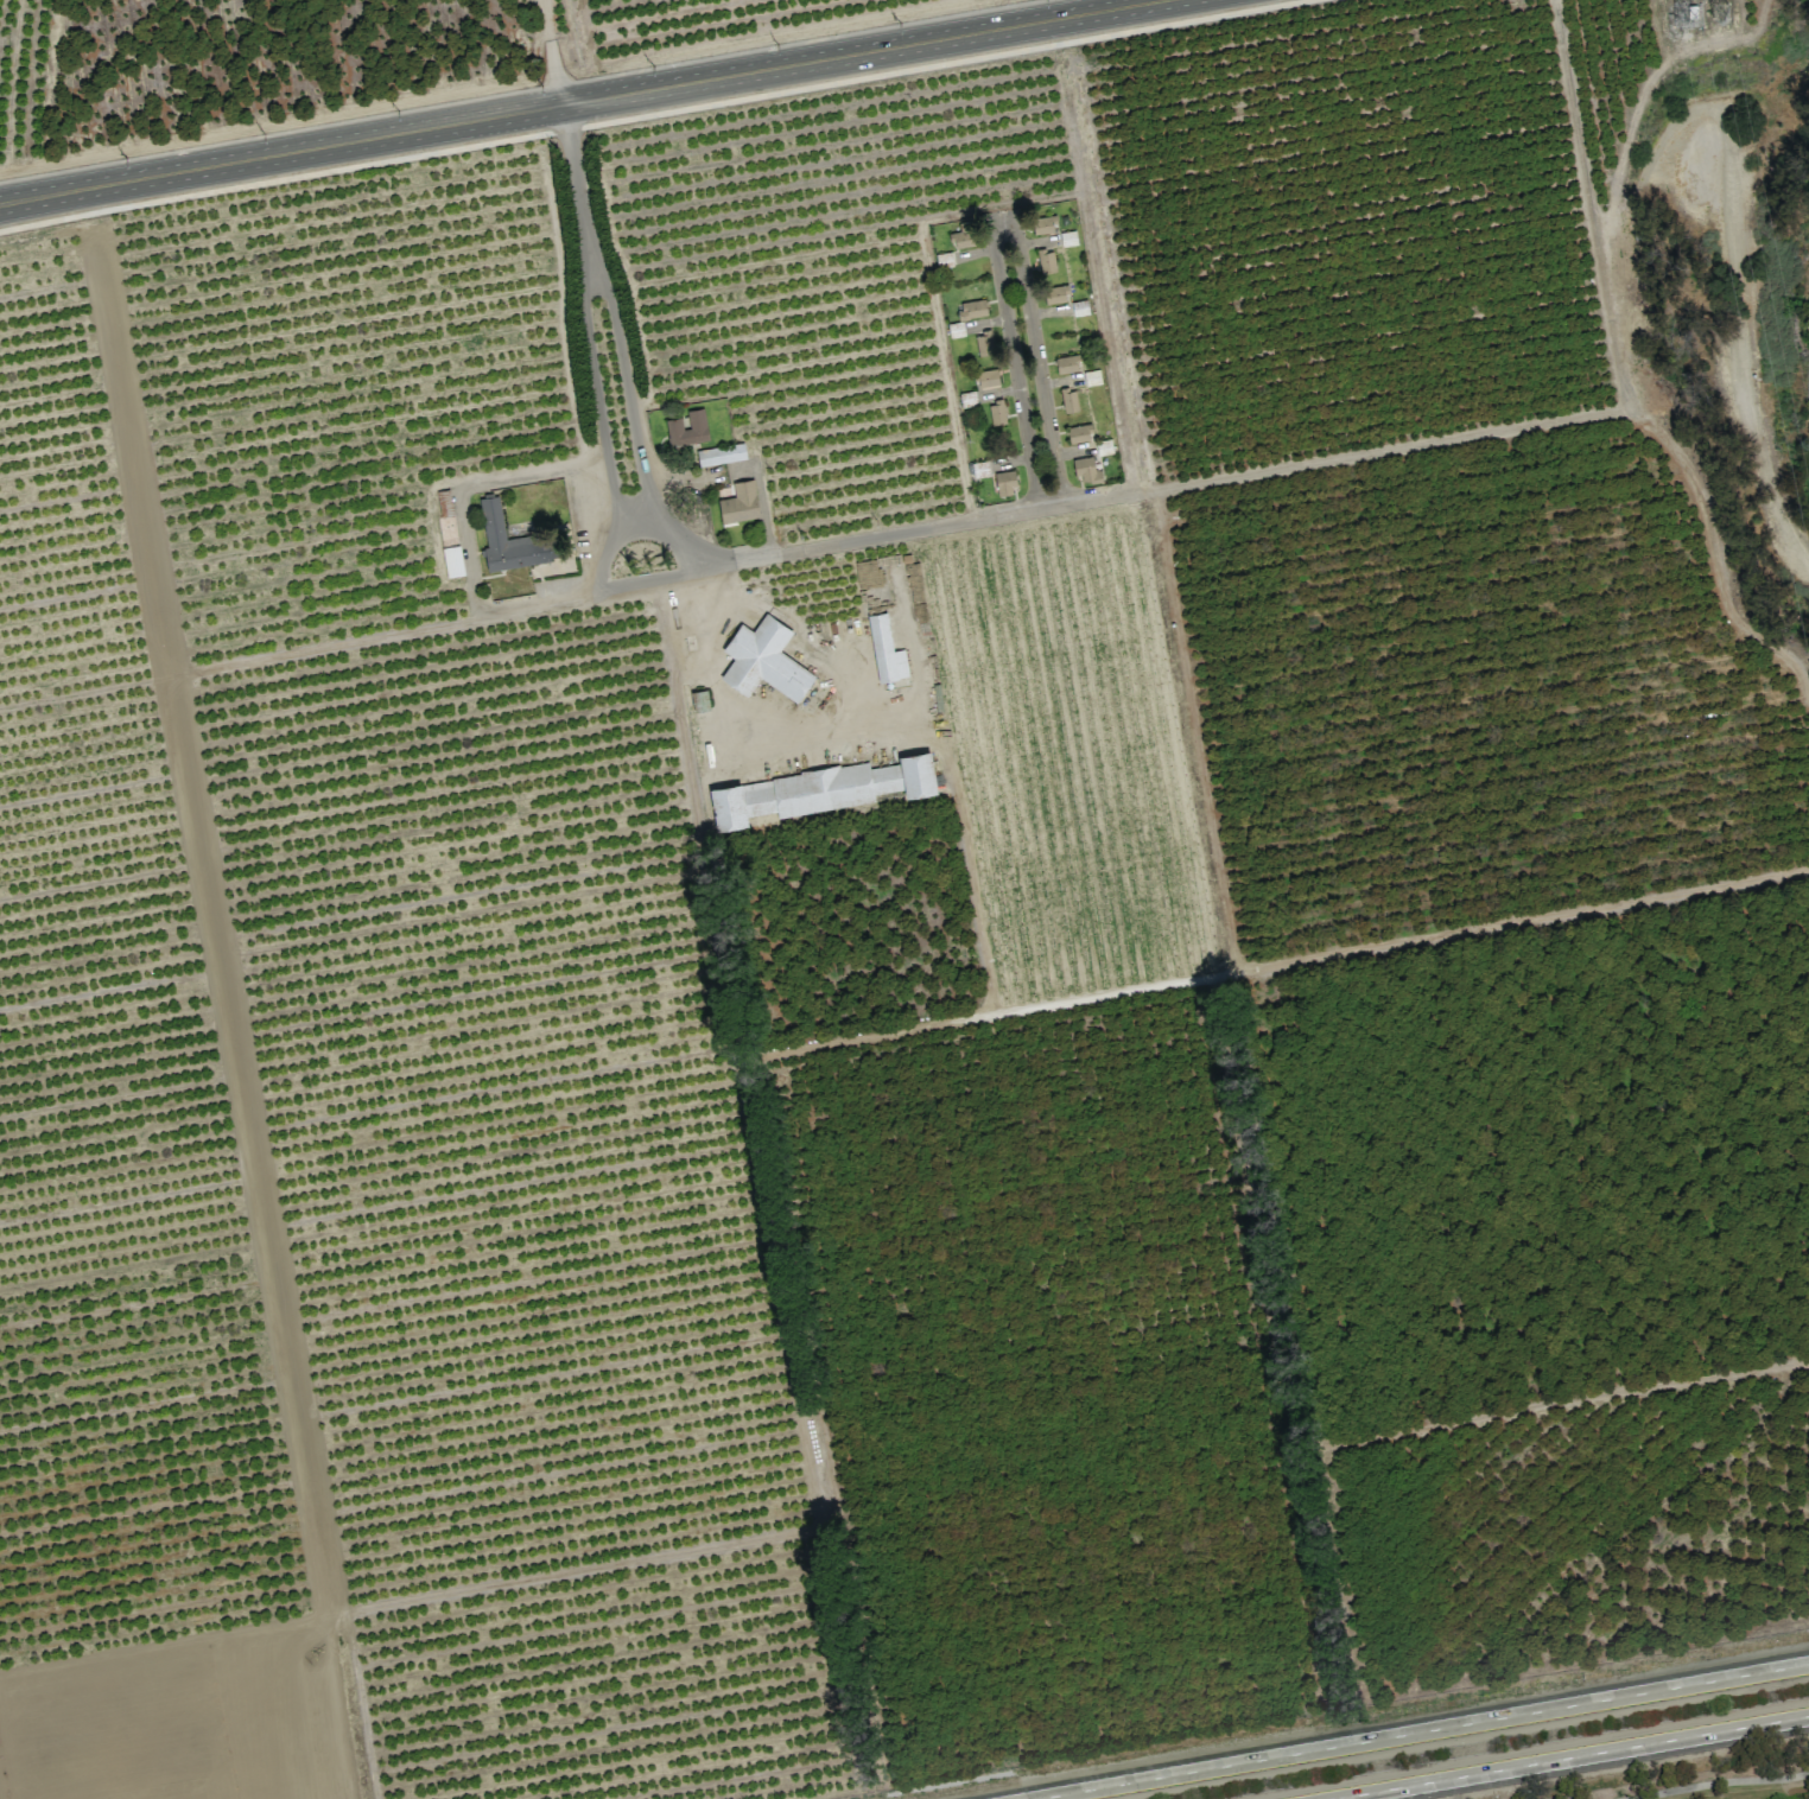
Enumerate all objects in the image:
power tower: (1722, 11)
power tower: (1691, 12)
road: (551, 51)
road: (940, 65)
road: (579, 100)
road: (284, 180)
road: (578, 192)
road: (1589, 204)
building: (1043, 224)
building: (963, 235)
building: (1046, 260)
building: (1055, 293)
building: (1079, 307)
building: (972, 309)
building: (984, 343)
road: (1034, 352)
building: (1067, 363)
road: (1015, 368)
road: (594, 370)
building: (986, 377)
building: (1091, 377)
road: (628, 393)
building: (1068, 399)
building: (996, 412)
building: (687, 427)
building: (1080, 433)
road: (1376, 450)
building: (721, 453)
building: (1086, 470)
building: (1004, 483)
road: (472, 485)
road: (612, 488)
building: (740, 502)
road: (668, 534)
road: (861, 540)
building: (510, 541)
road: (607, 549)
road: (1715, 560)
road: (538, 602)
building: (886, 649)
building: (763, 659)
road: (747, 716)
building: (819, 789)
road: (1421, 1730)
road: (1572, 1757)
road: (1718, 1781)
park: (1718, 1782)

